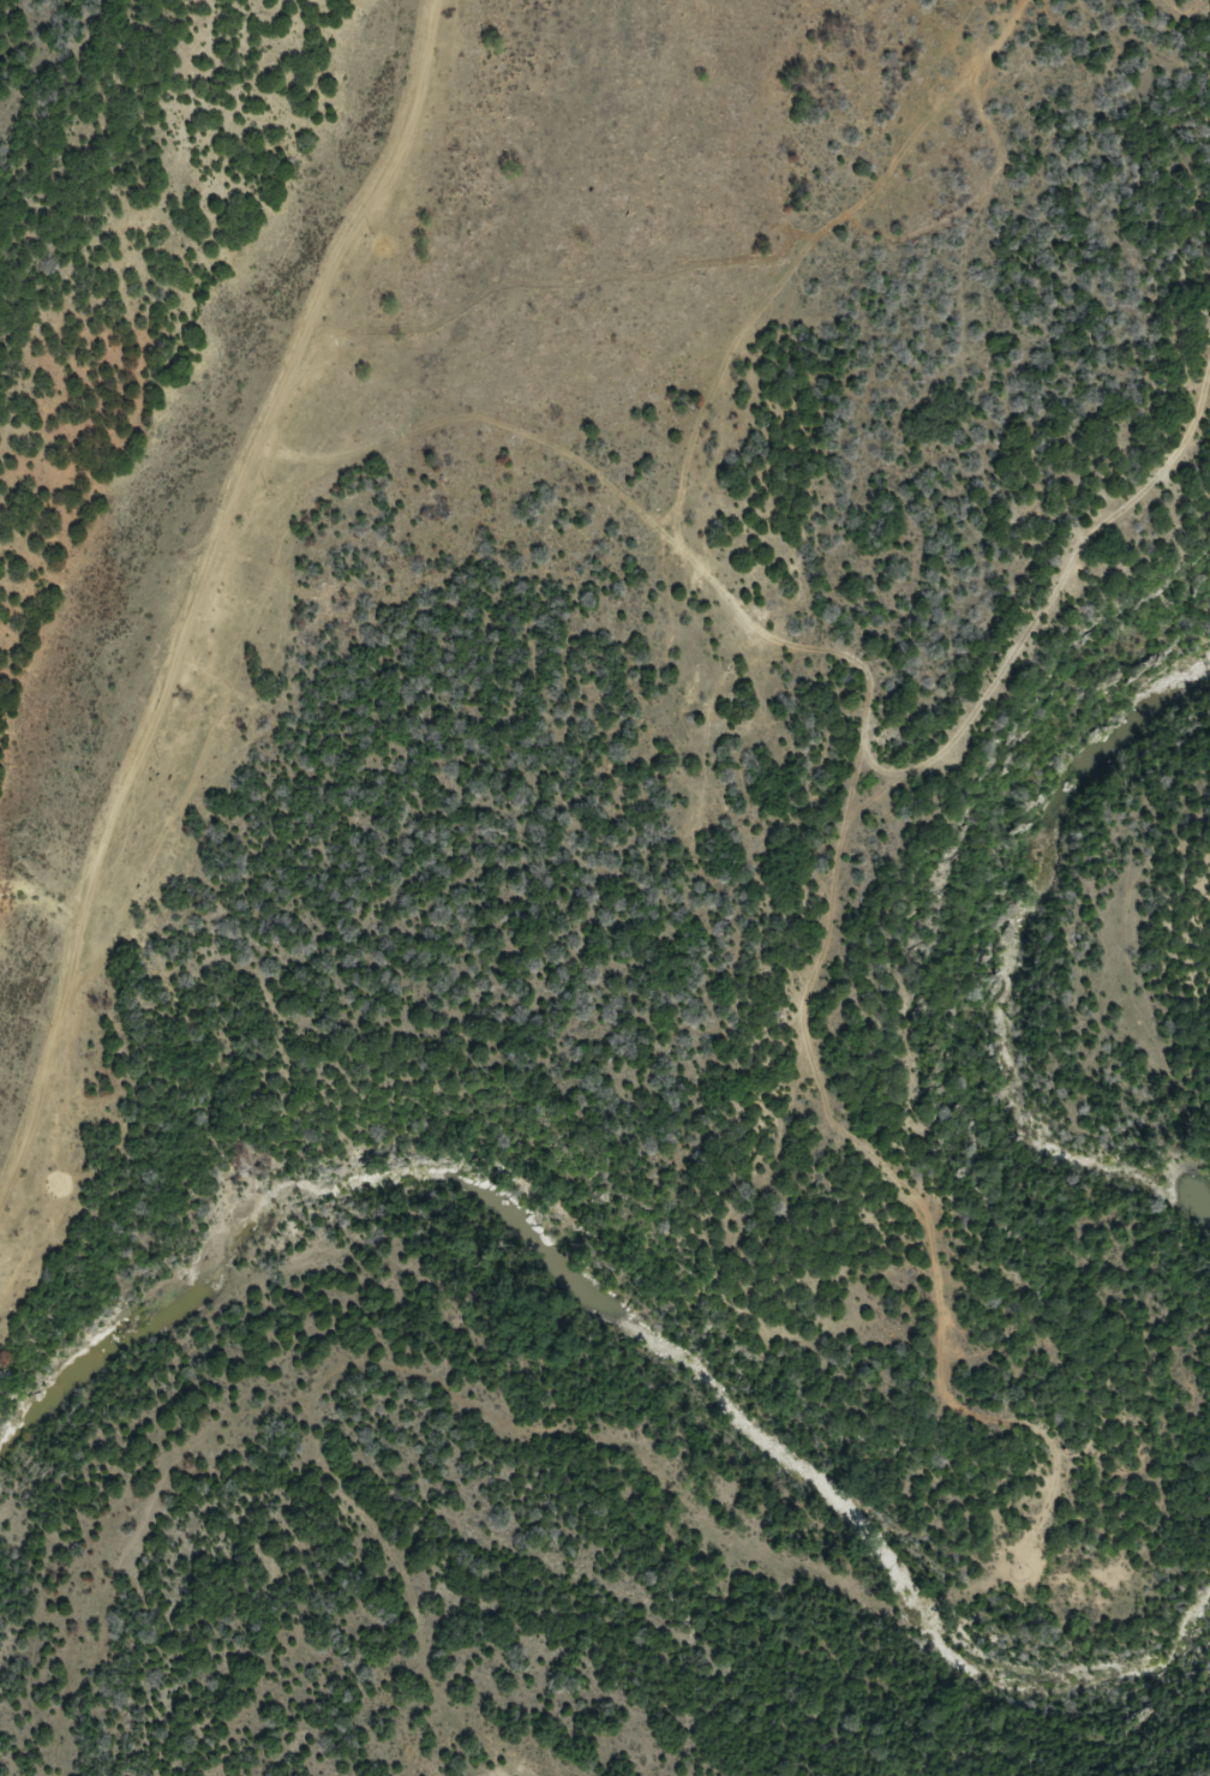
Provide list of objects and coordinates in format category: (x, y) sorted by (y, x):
road: (222, 690)

